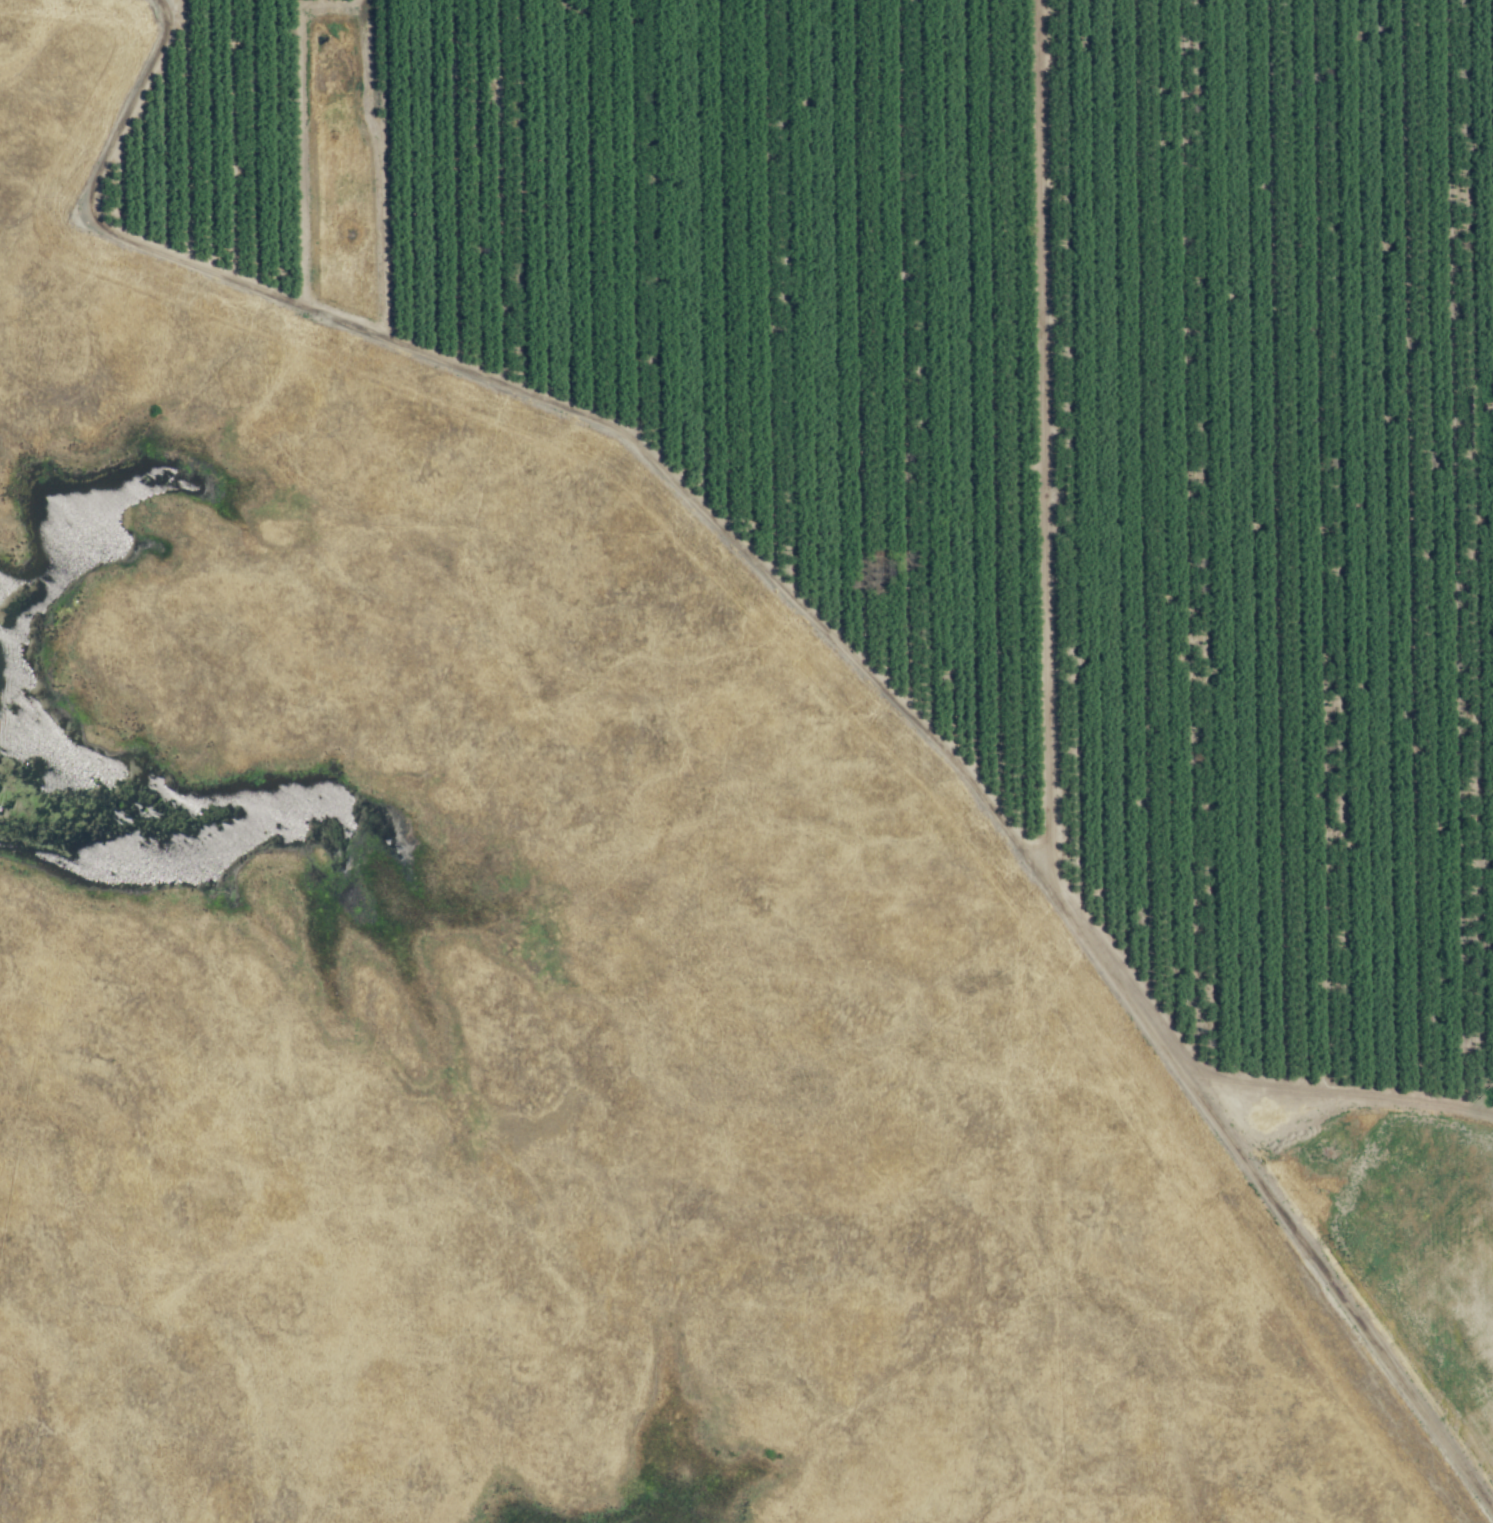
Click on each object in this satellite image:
crop: (1019, 462)

